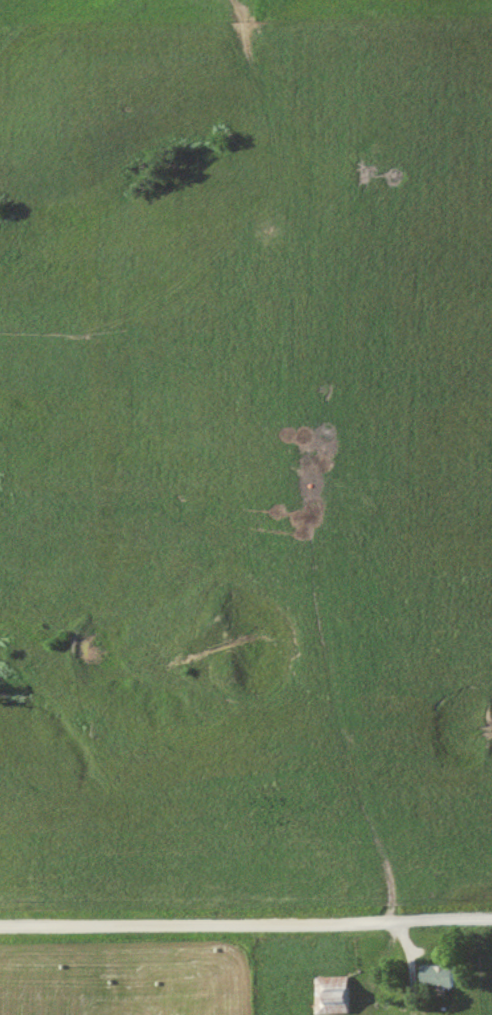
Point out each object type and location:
road: (246, 923)
building: (440, 975)
building: (334, 994)

